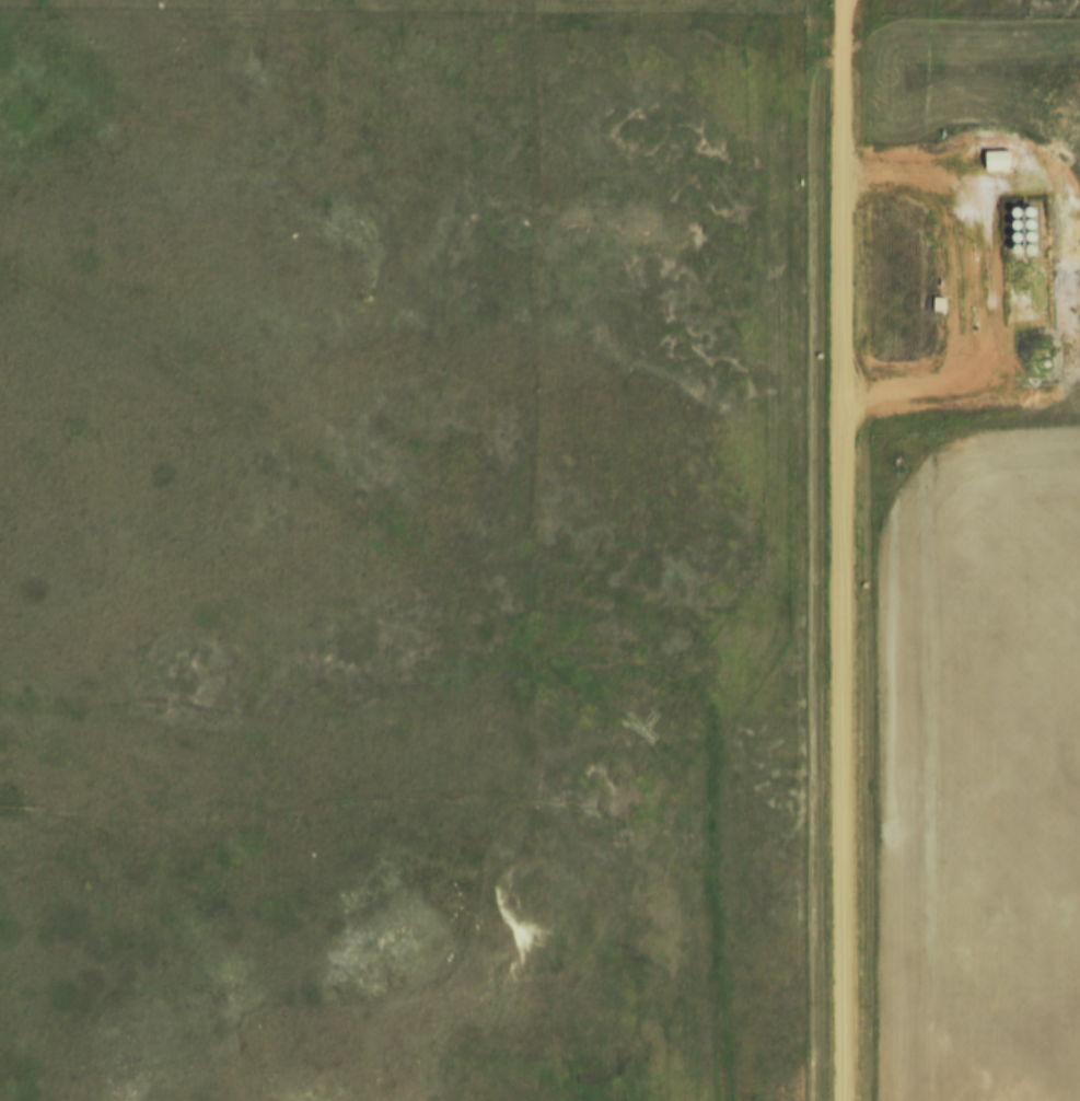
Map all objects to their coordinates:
building: (1003, 163)
road: (841, 549)

